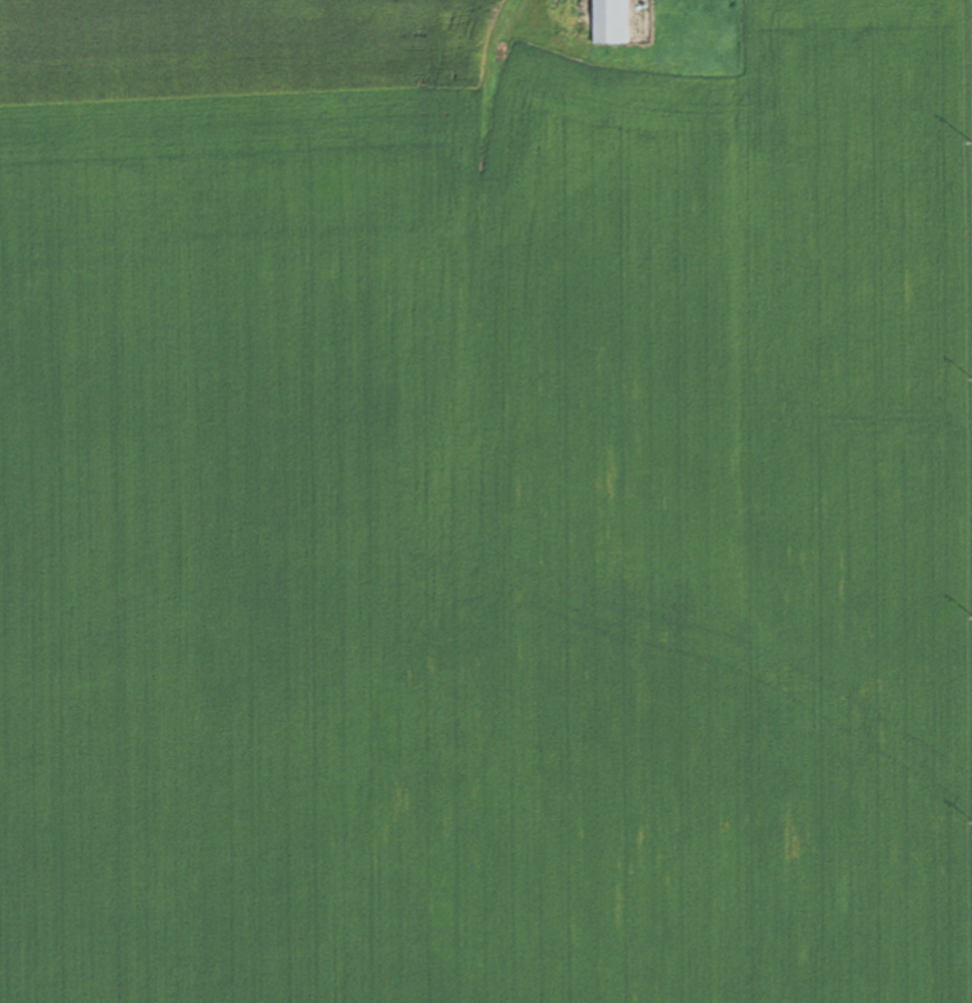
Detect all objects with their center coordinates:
building: (616, 23)

